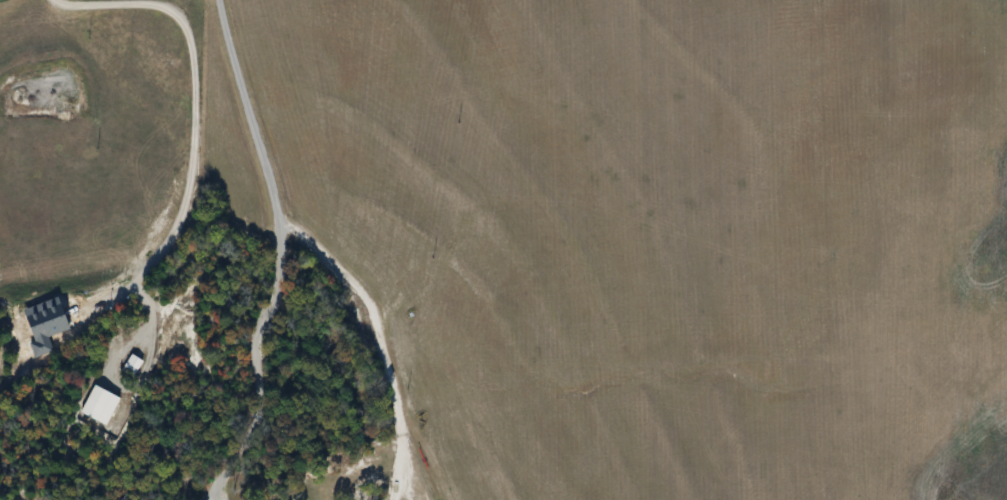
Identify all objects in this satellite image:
road: (192, 149)
road: (279, 255)
road: (380, 340)
building: (98, 404)

